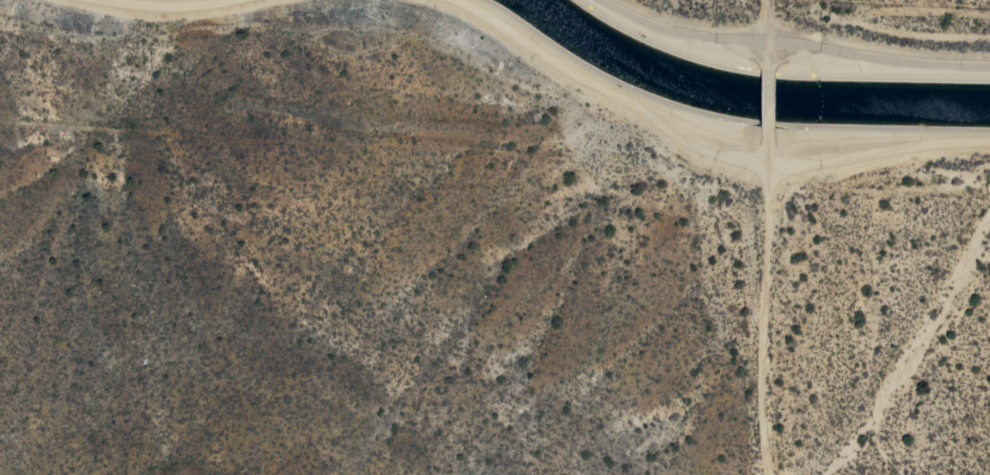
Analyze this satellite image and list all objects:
road: (766, 31)
road: (767, 103)
road: (767, 310)

